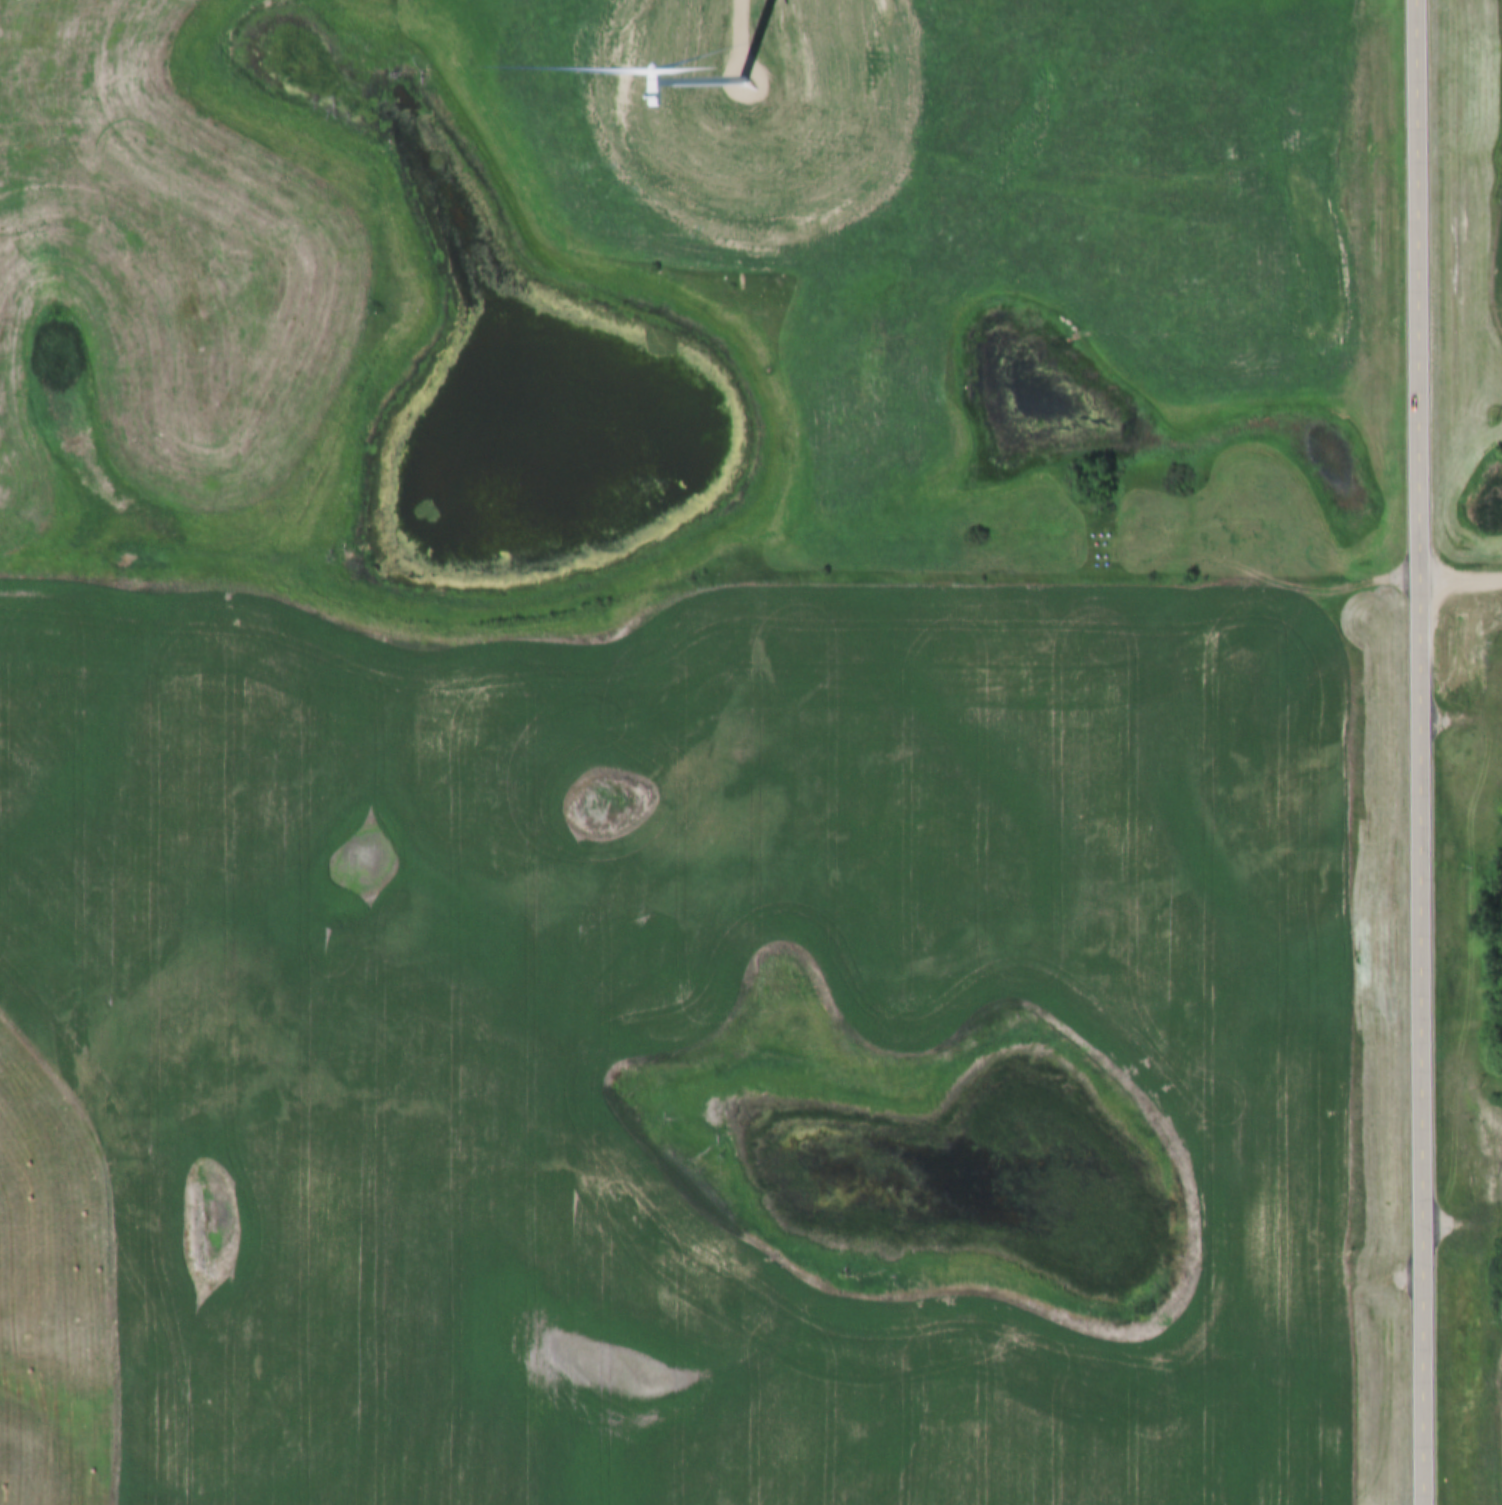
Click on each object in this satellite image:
road: (738, 19)
wind turbine: (766, 65)
road: (1459, 585)
road: (1418, 752)
road: (1463, 1216)

